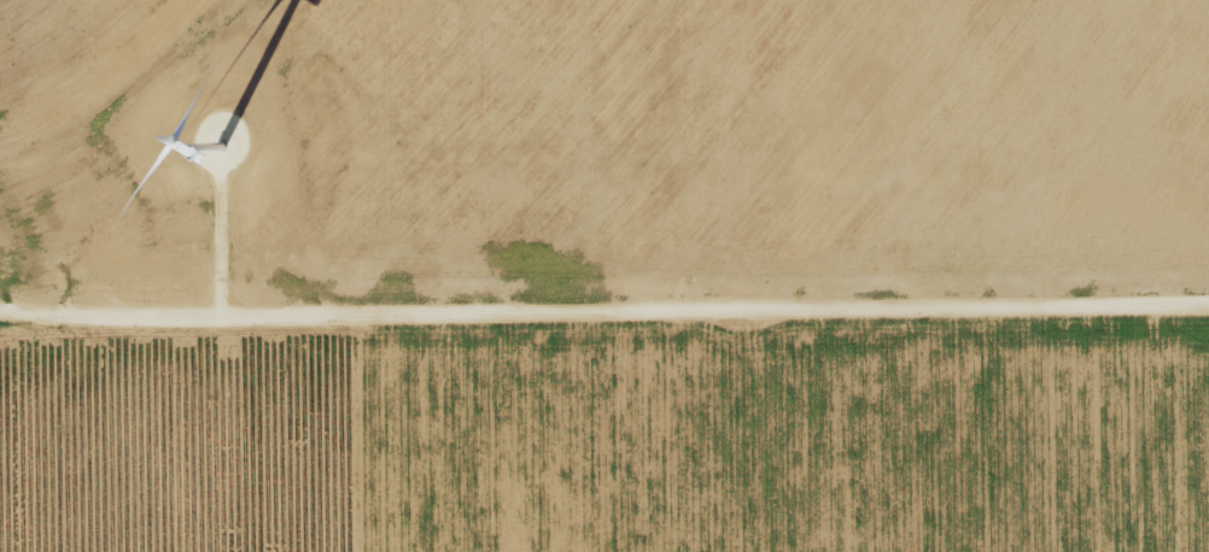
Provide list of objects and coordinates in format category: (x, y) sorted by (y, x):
wind turbine: (218, 149)

